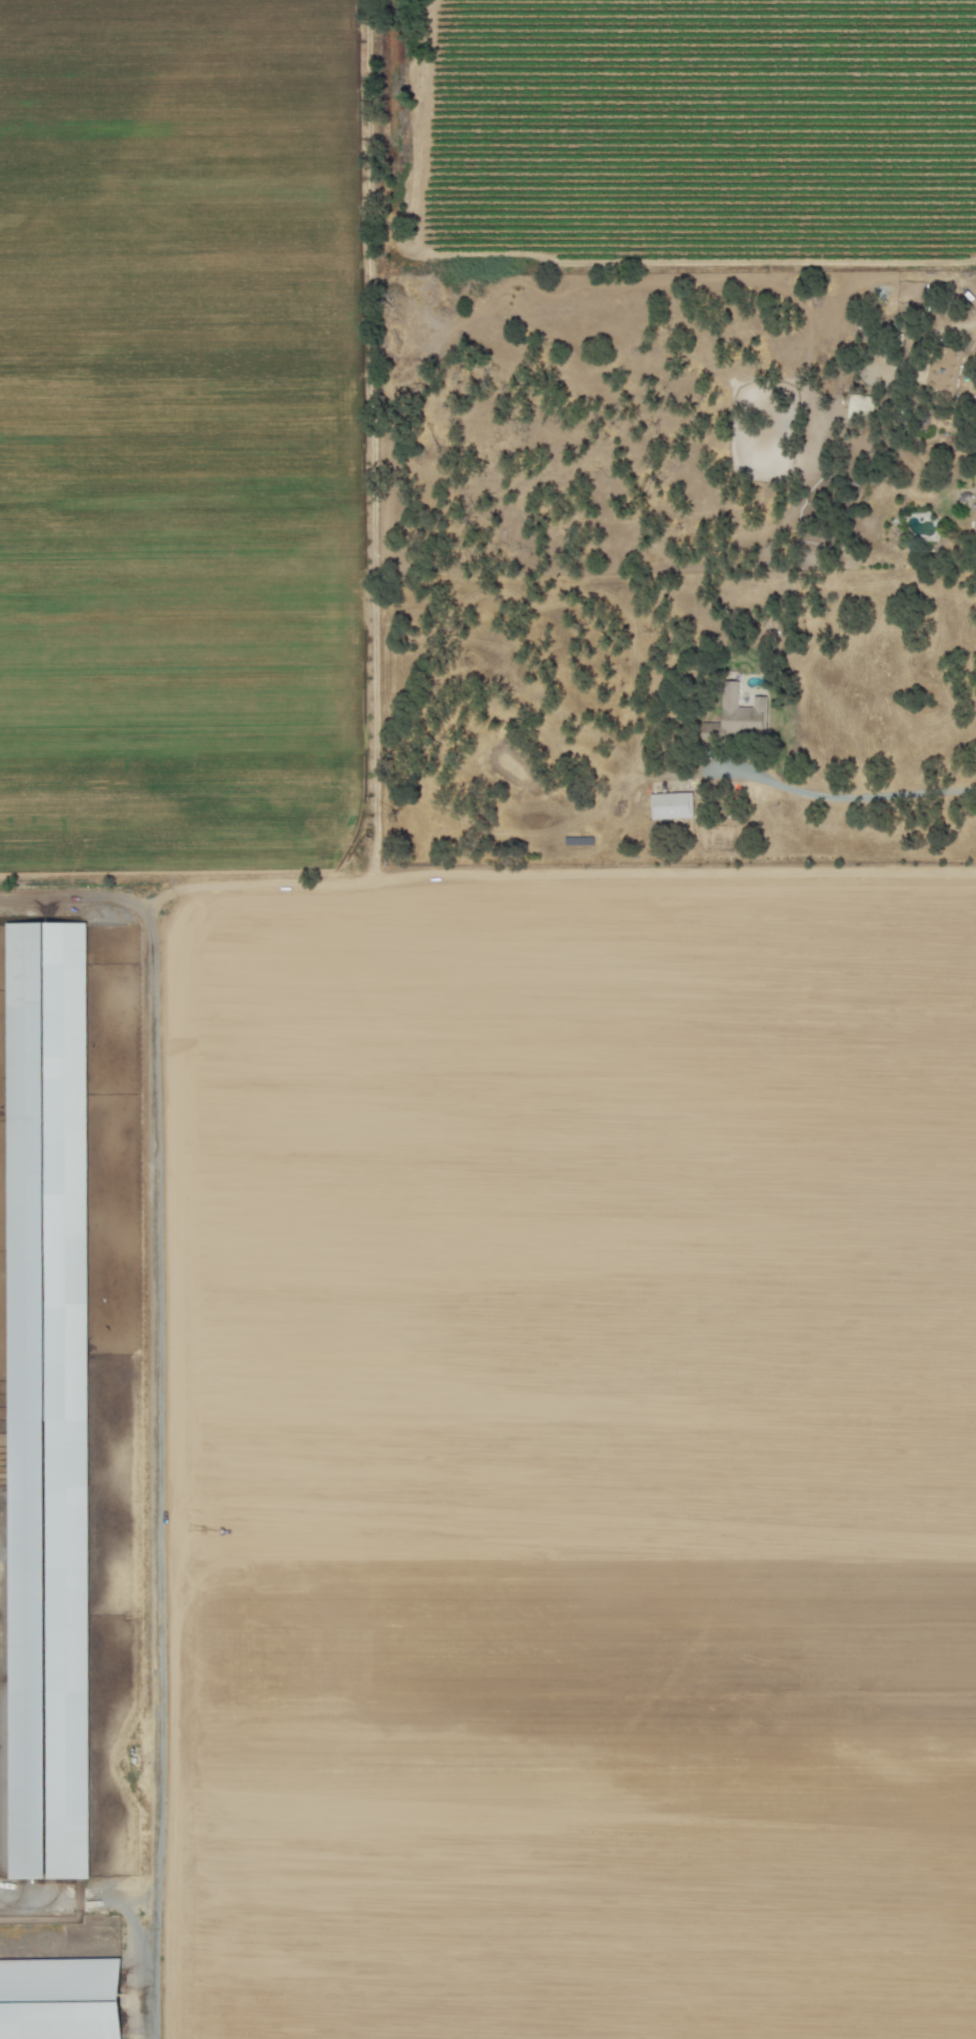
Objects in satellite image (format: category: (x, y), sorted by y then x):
building: (944, 370)
building: (860, 407)
building: (974, 482)
building: (974, 517)
building: (736, 714)
road: (843, 797)
building: (670, 806)
building: (47, 1401)
road: (139, 1900)
building: (60, 1999)

